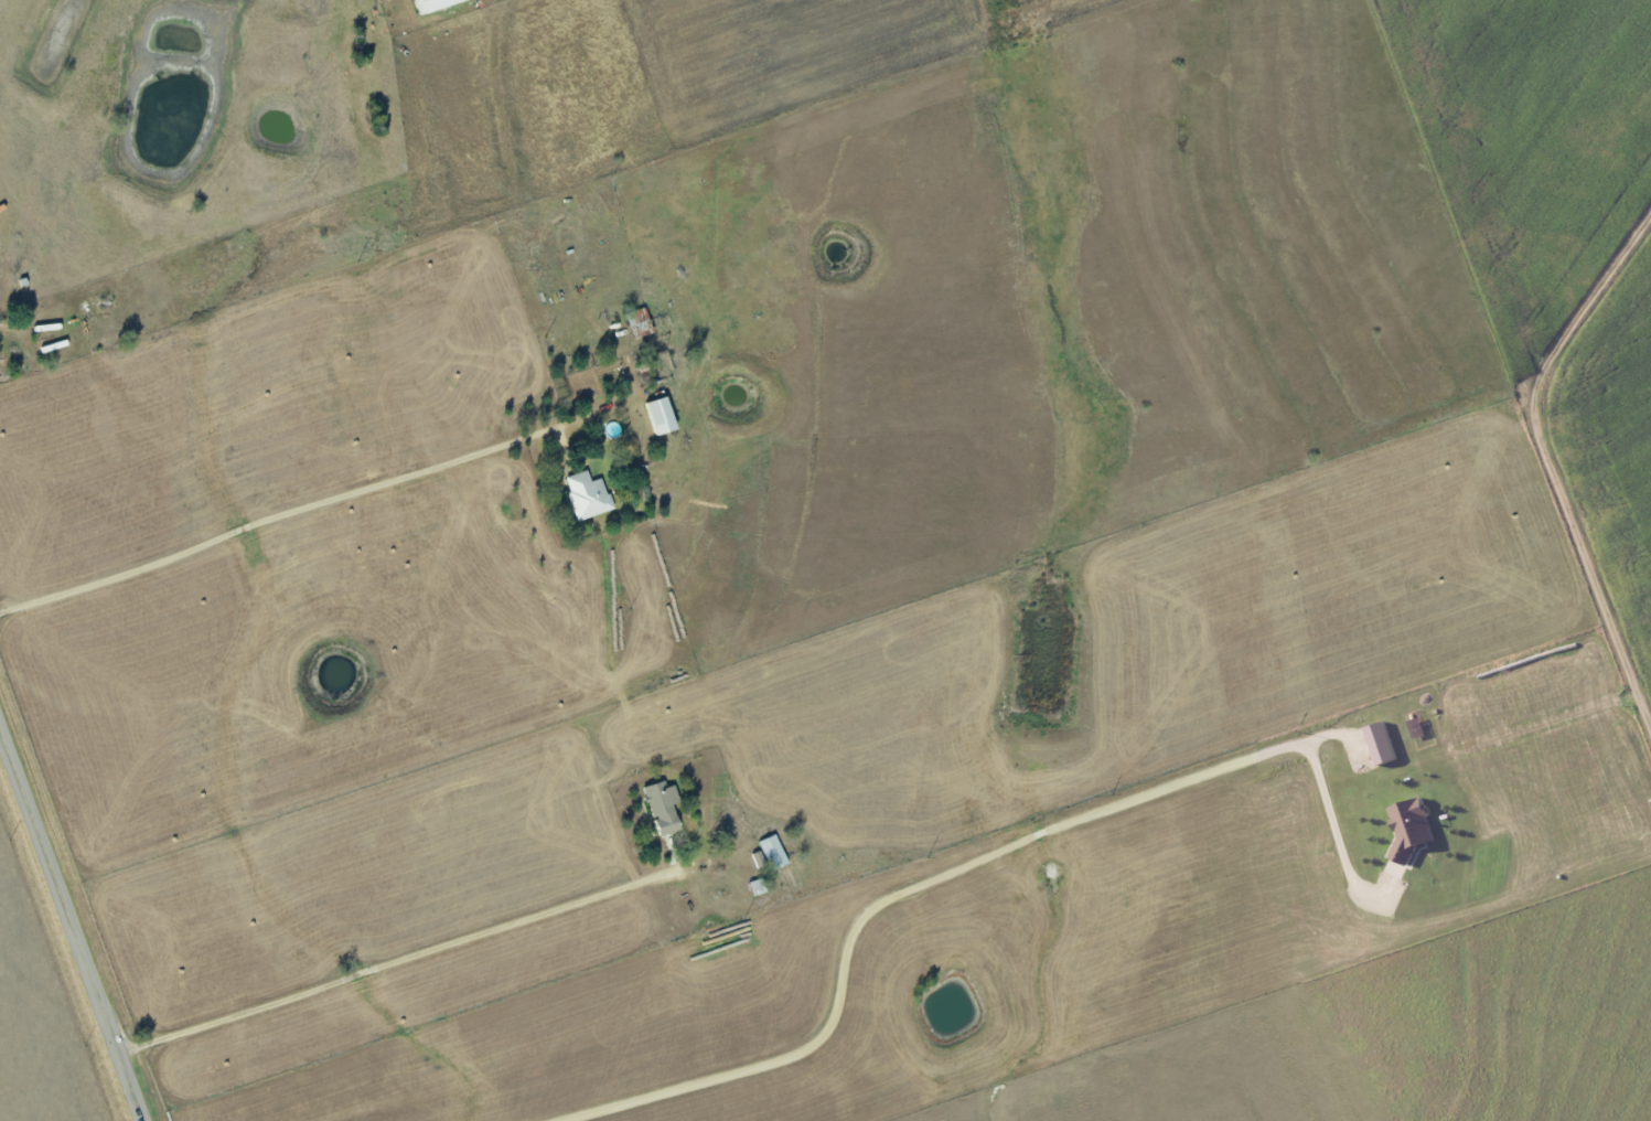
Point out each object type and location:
building: (433, 3)
building: (661, 416)
road: (1563, 444)
road: (341, 491)
building: (587, 495)
building: (1382, 743)
building: (663, 805)
building: (1411, 829)
building: (772, 852)
road: (999, 865)
building: (755, 887)
road: (73, 920)
road: (420, 932)

